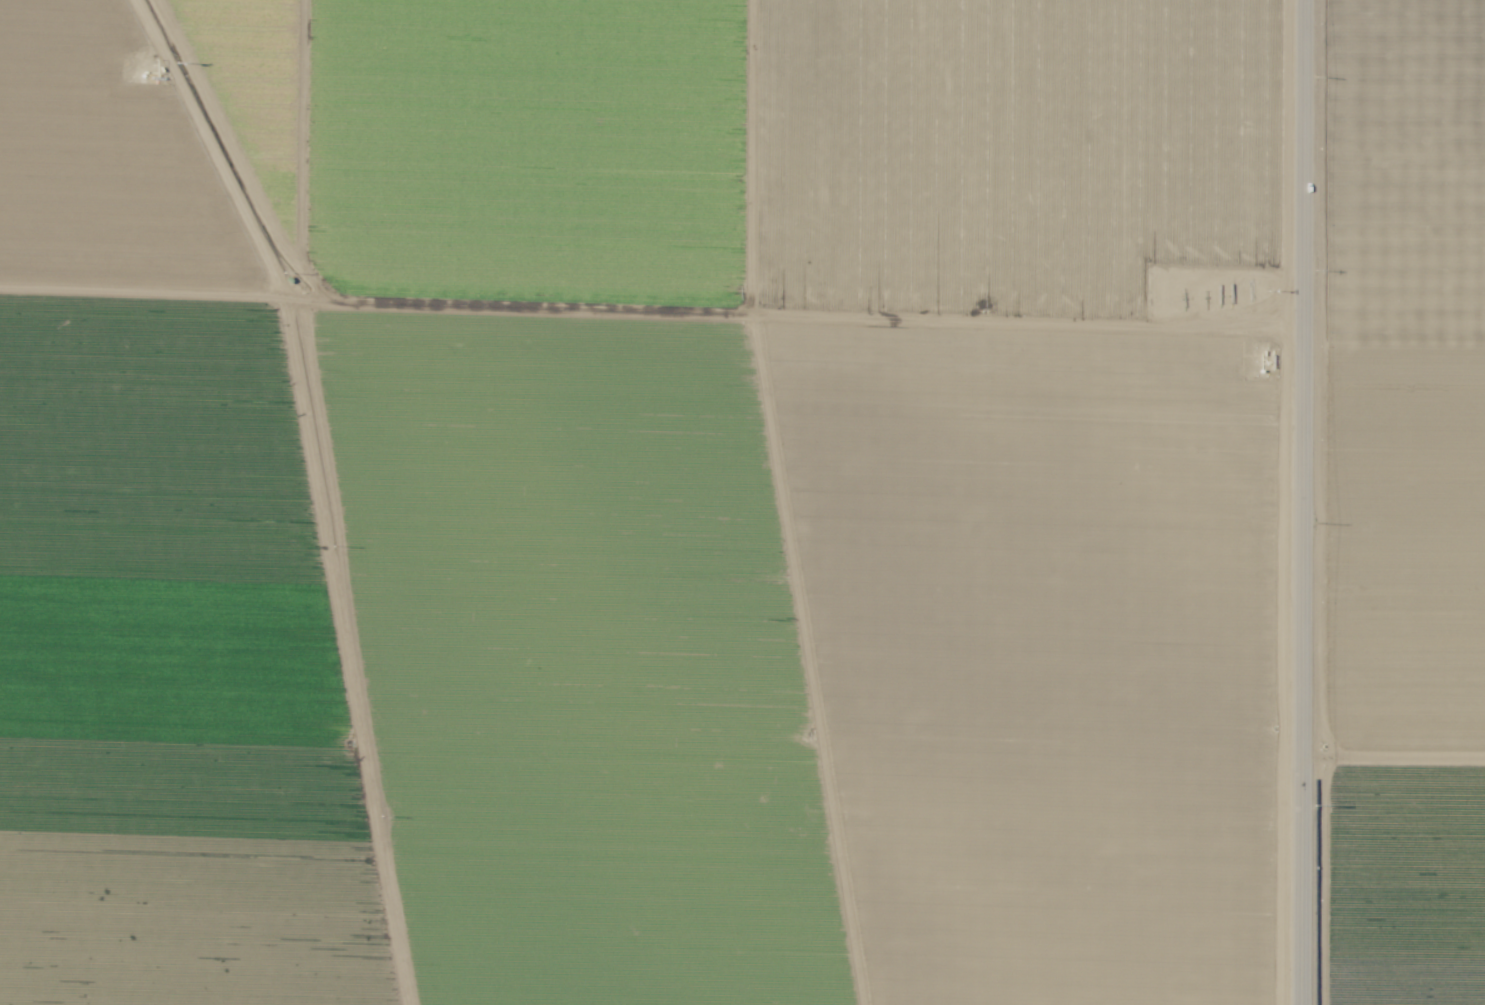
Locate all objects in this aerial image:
crop: (742, 502)
road: (1305, 502)

